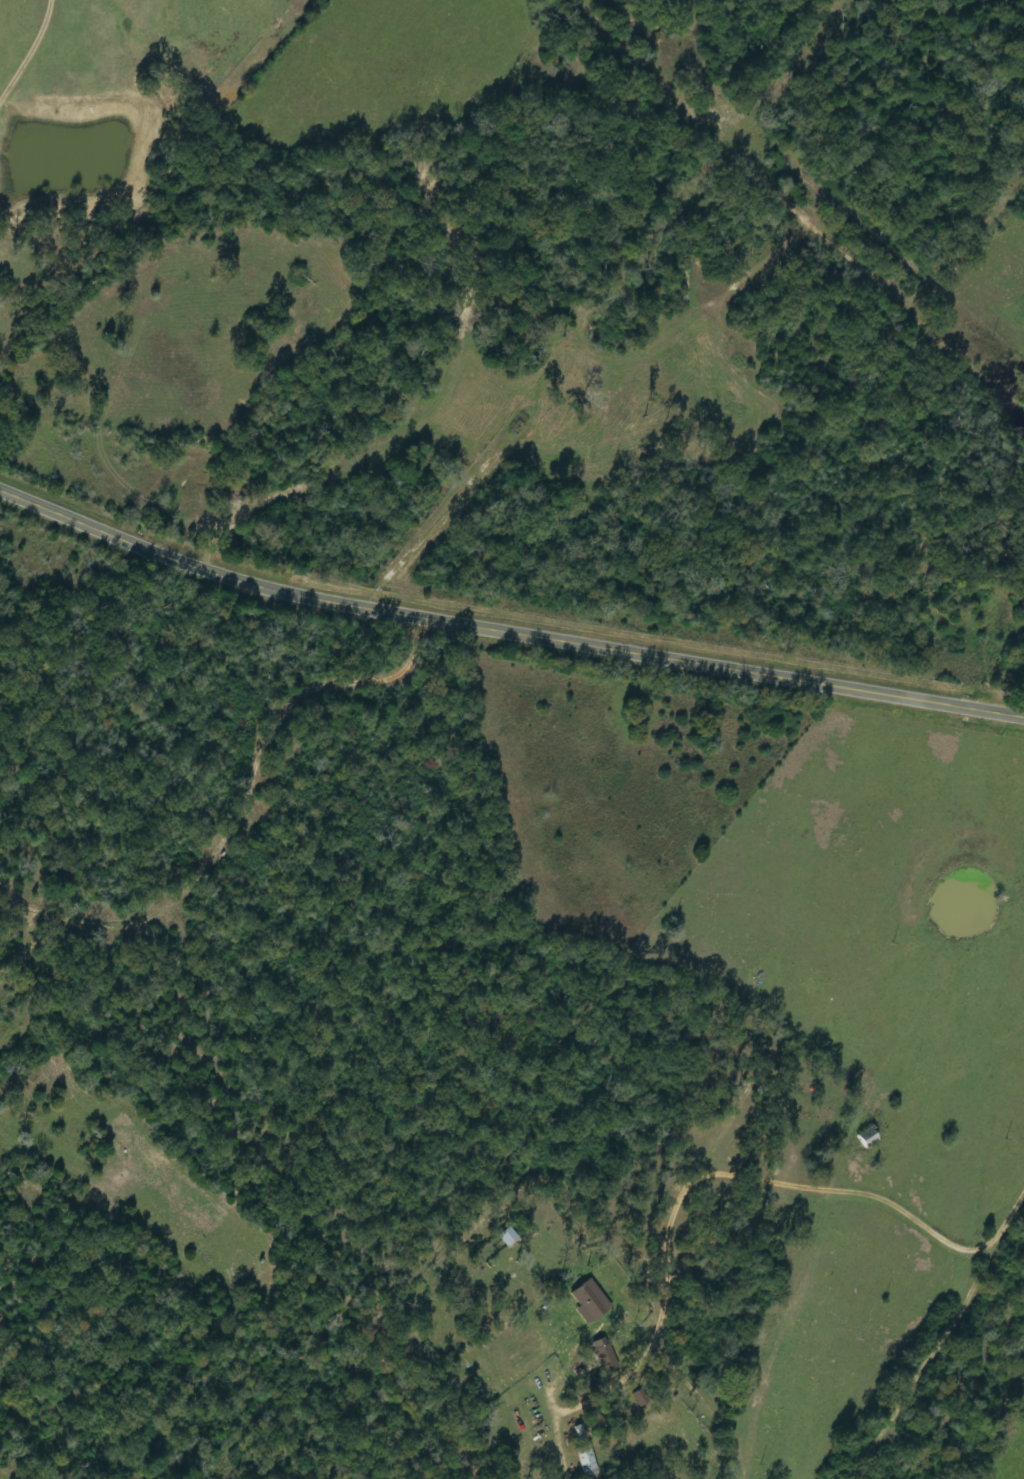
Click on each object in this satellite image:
road: (504, 630)
building: (587, 1301)
building: (584, 1460)

